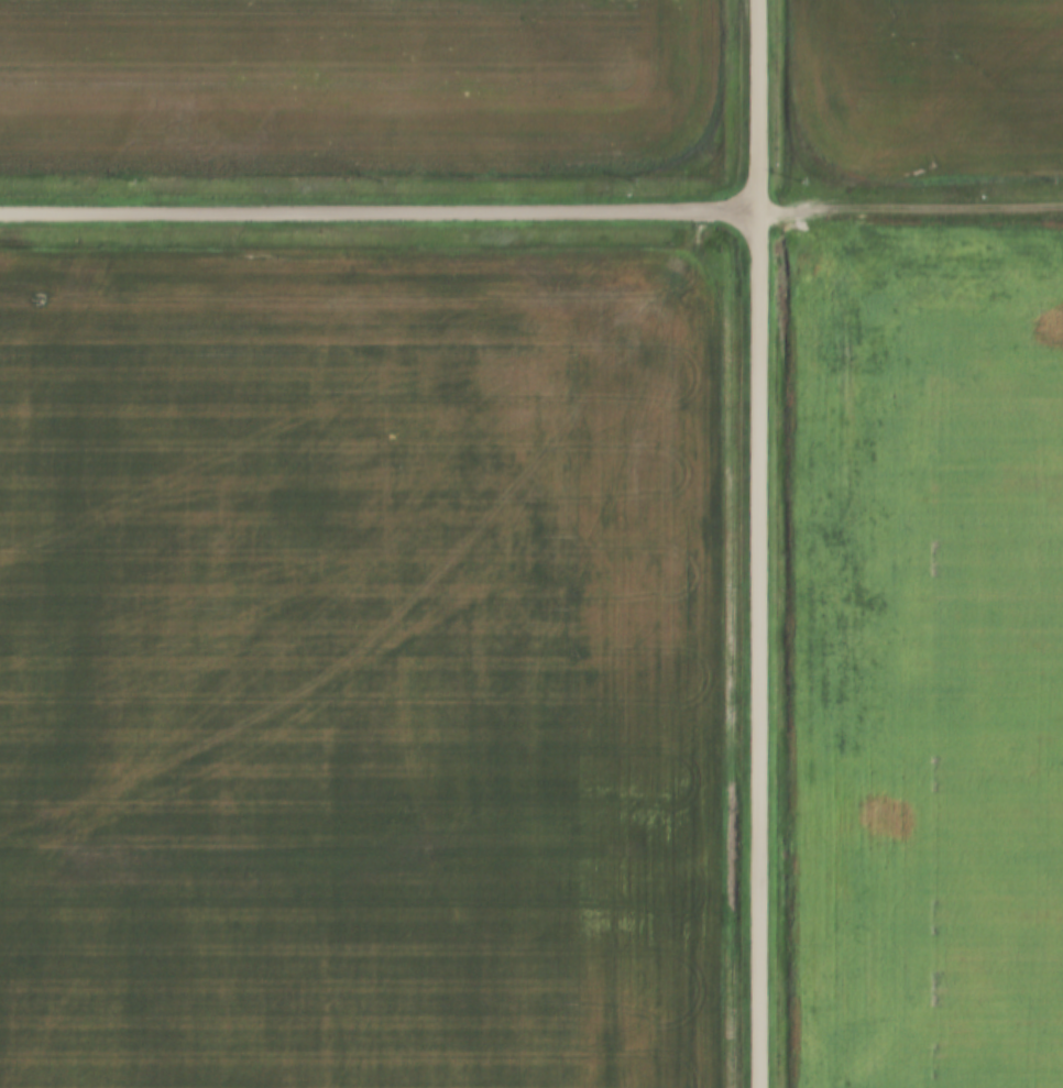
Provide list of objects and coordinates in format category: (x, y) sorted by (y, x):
road: (910, 209)
road: (379, 213)
road: (758, 543)

